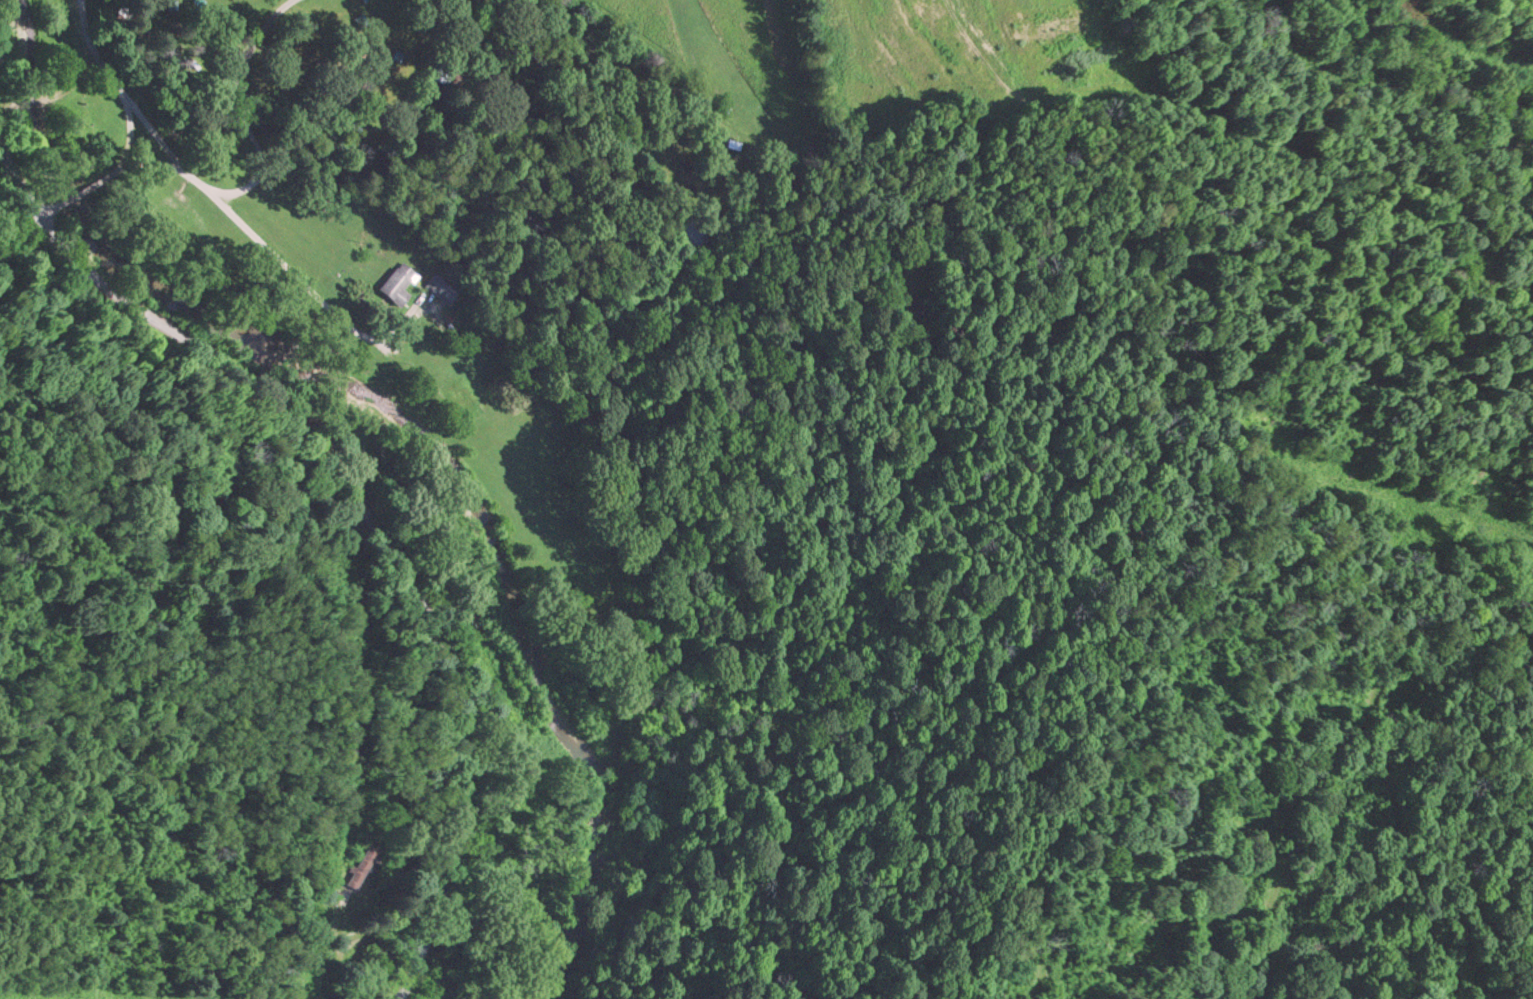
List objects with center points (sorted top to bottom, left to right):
road: (122, 92)
road: (131, 129)
road: (240, 191)
building: (395, 283)
road: (305, 286)
building: (441, 288)
building: (447, 324)
road: (362, 511)
building: (361, 865)

